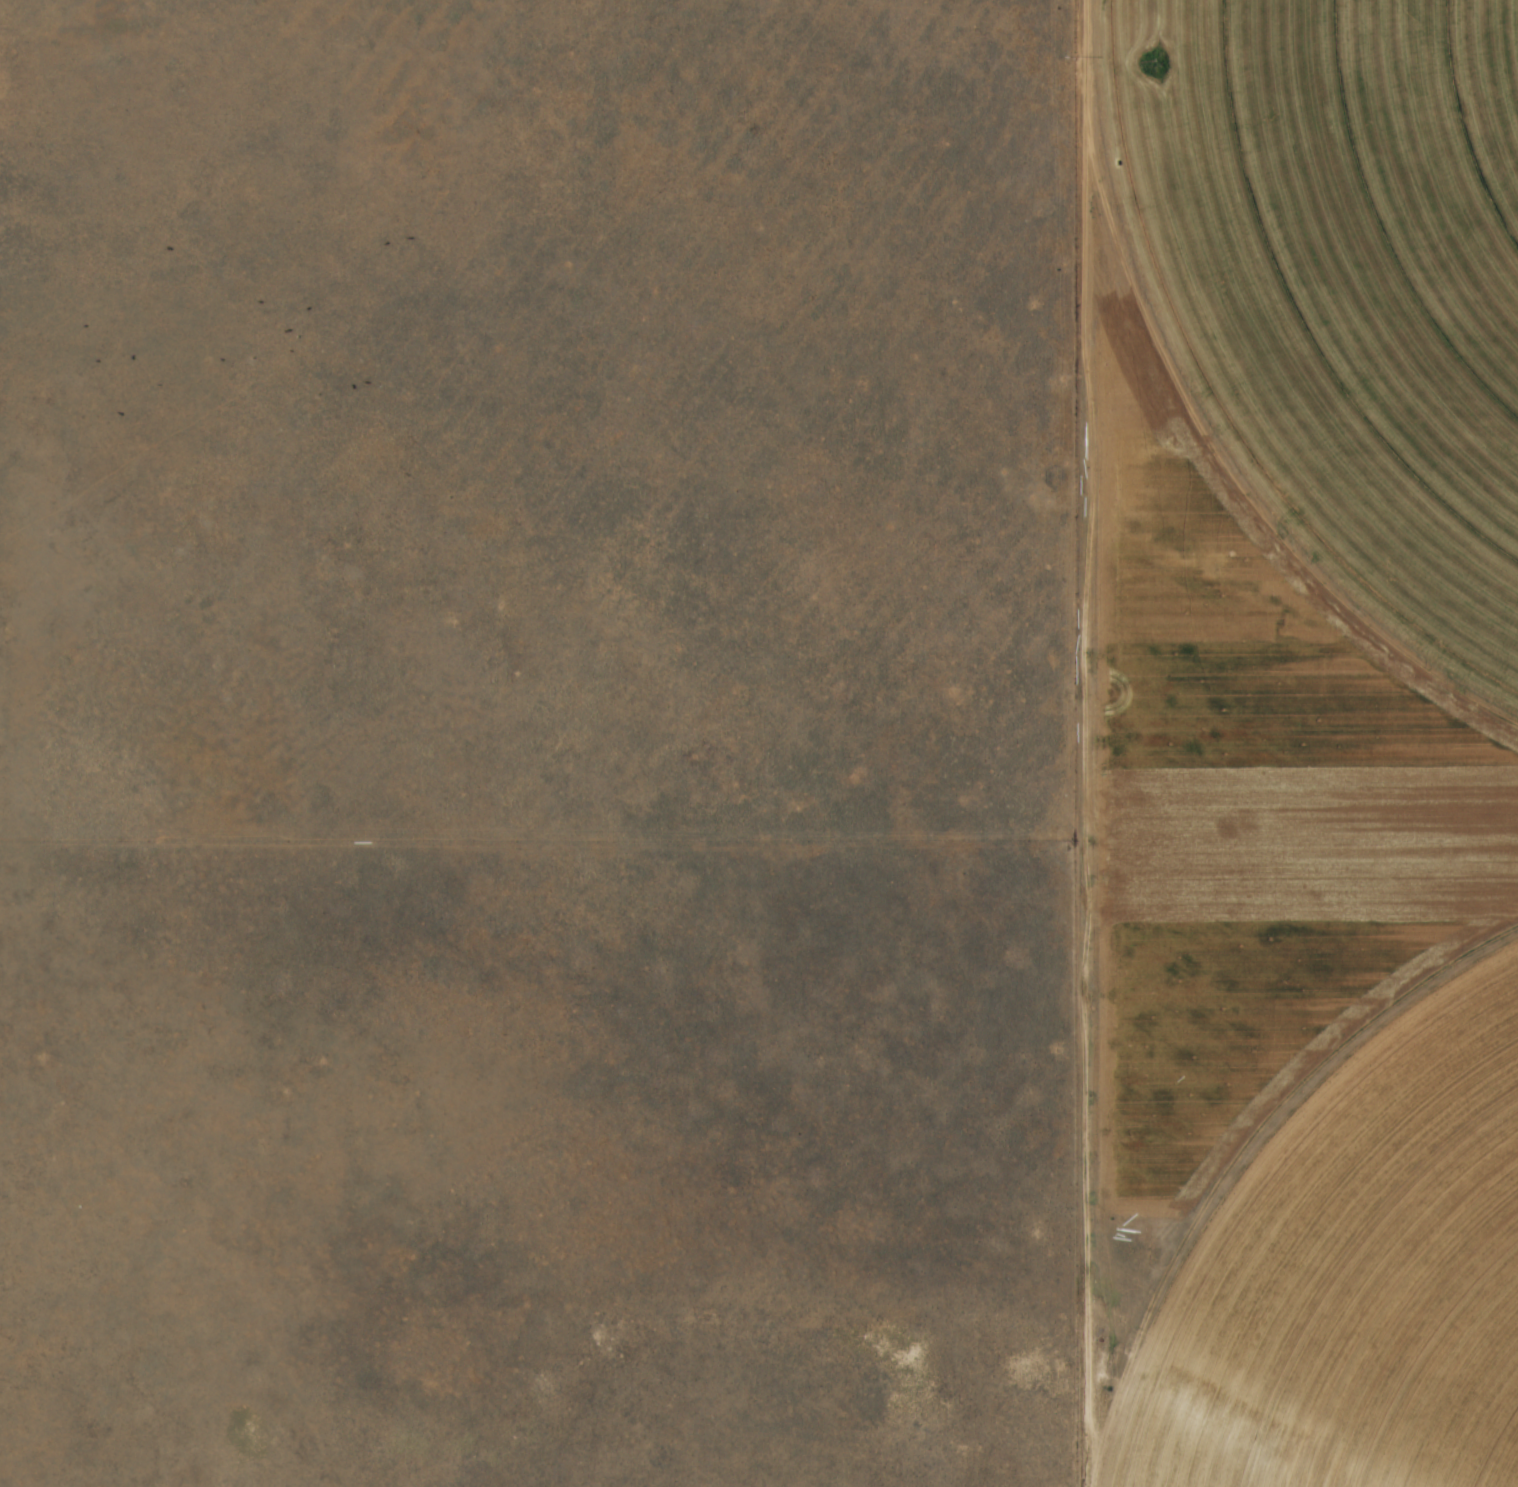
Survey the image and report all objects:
crop: (1336, 290)
road: (1098, 743)

